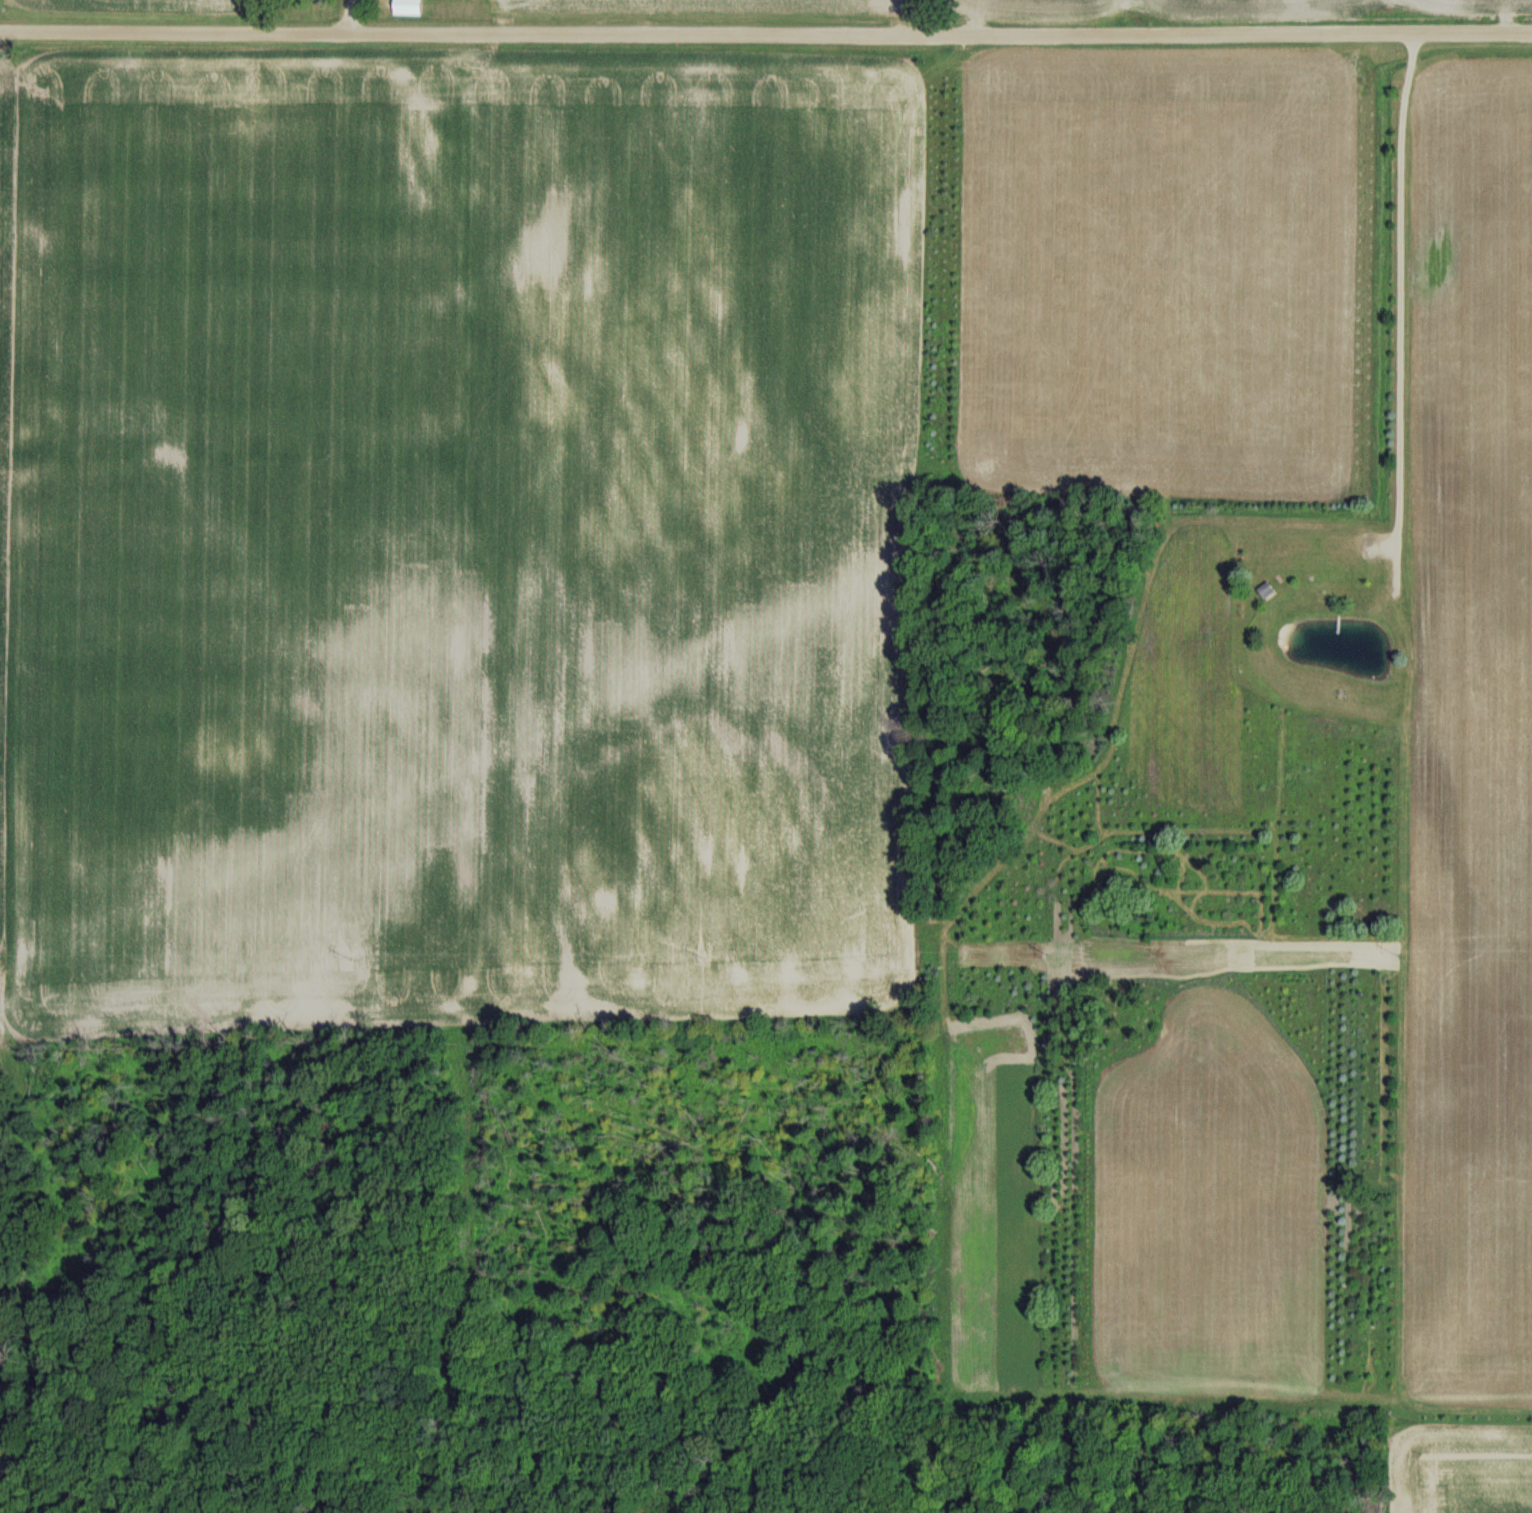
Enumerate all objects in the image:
building: (408, 7)
road: (765, 32)
building: (1266, 590)

